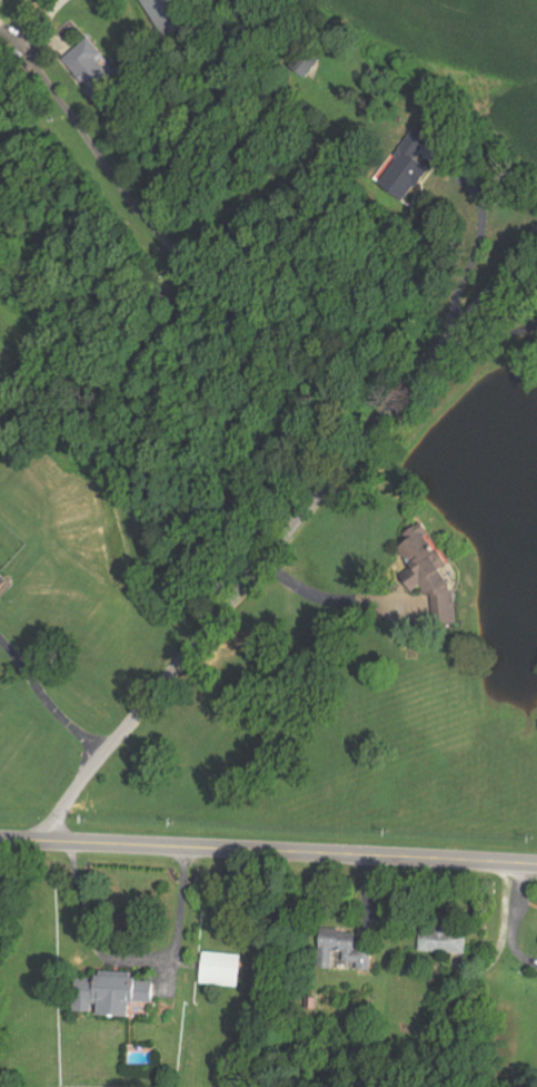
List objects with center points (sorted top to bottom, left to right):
building: (168, 16)
road: (36, 20)
building: (88, 65)
building: (405, 166)
road: (470, 248)
road: (179, 273)
road: (488, 337)
road: (282, 536)
building: (428, 575)
building: (2, 584)
road: (321, 597)
road: (46, 703)
road: (17, 842)
road: (285, 854)
building: (440, 940)
building: (340, 950)
road: (132, 960)
building: (219, 969)
building: (109, 993)

